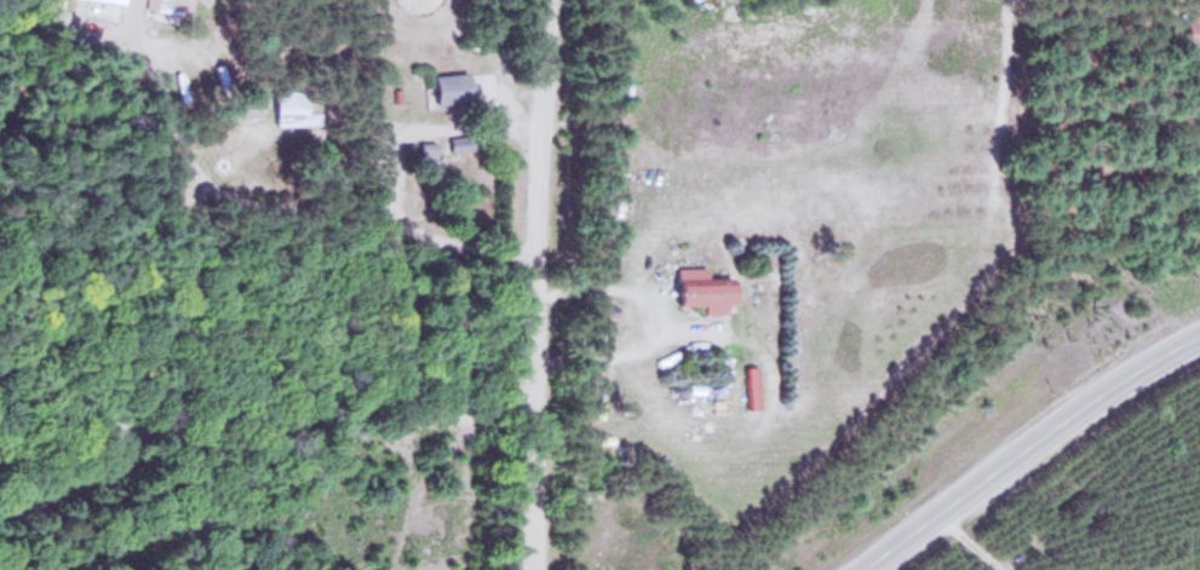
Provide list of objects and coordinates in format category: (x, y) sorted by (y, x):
building: (120, 0)
building: (172, 5)
building: (1193, 27)
building: (458, 85)
building: (294, 105)
building: (463, 140)
building: (430, 149)
road: (536, 284)
building: (707, 289)
road: (268, 441)
road: (1029, 449)

